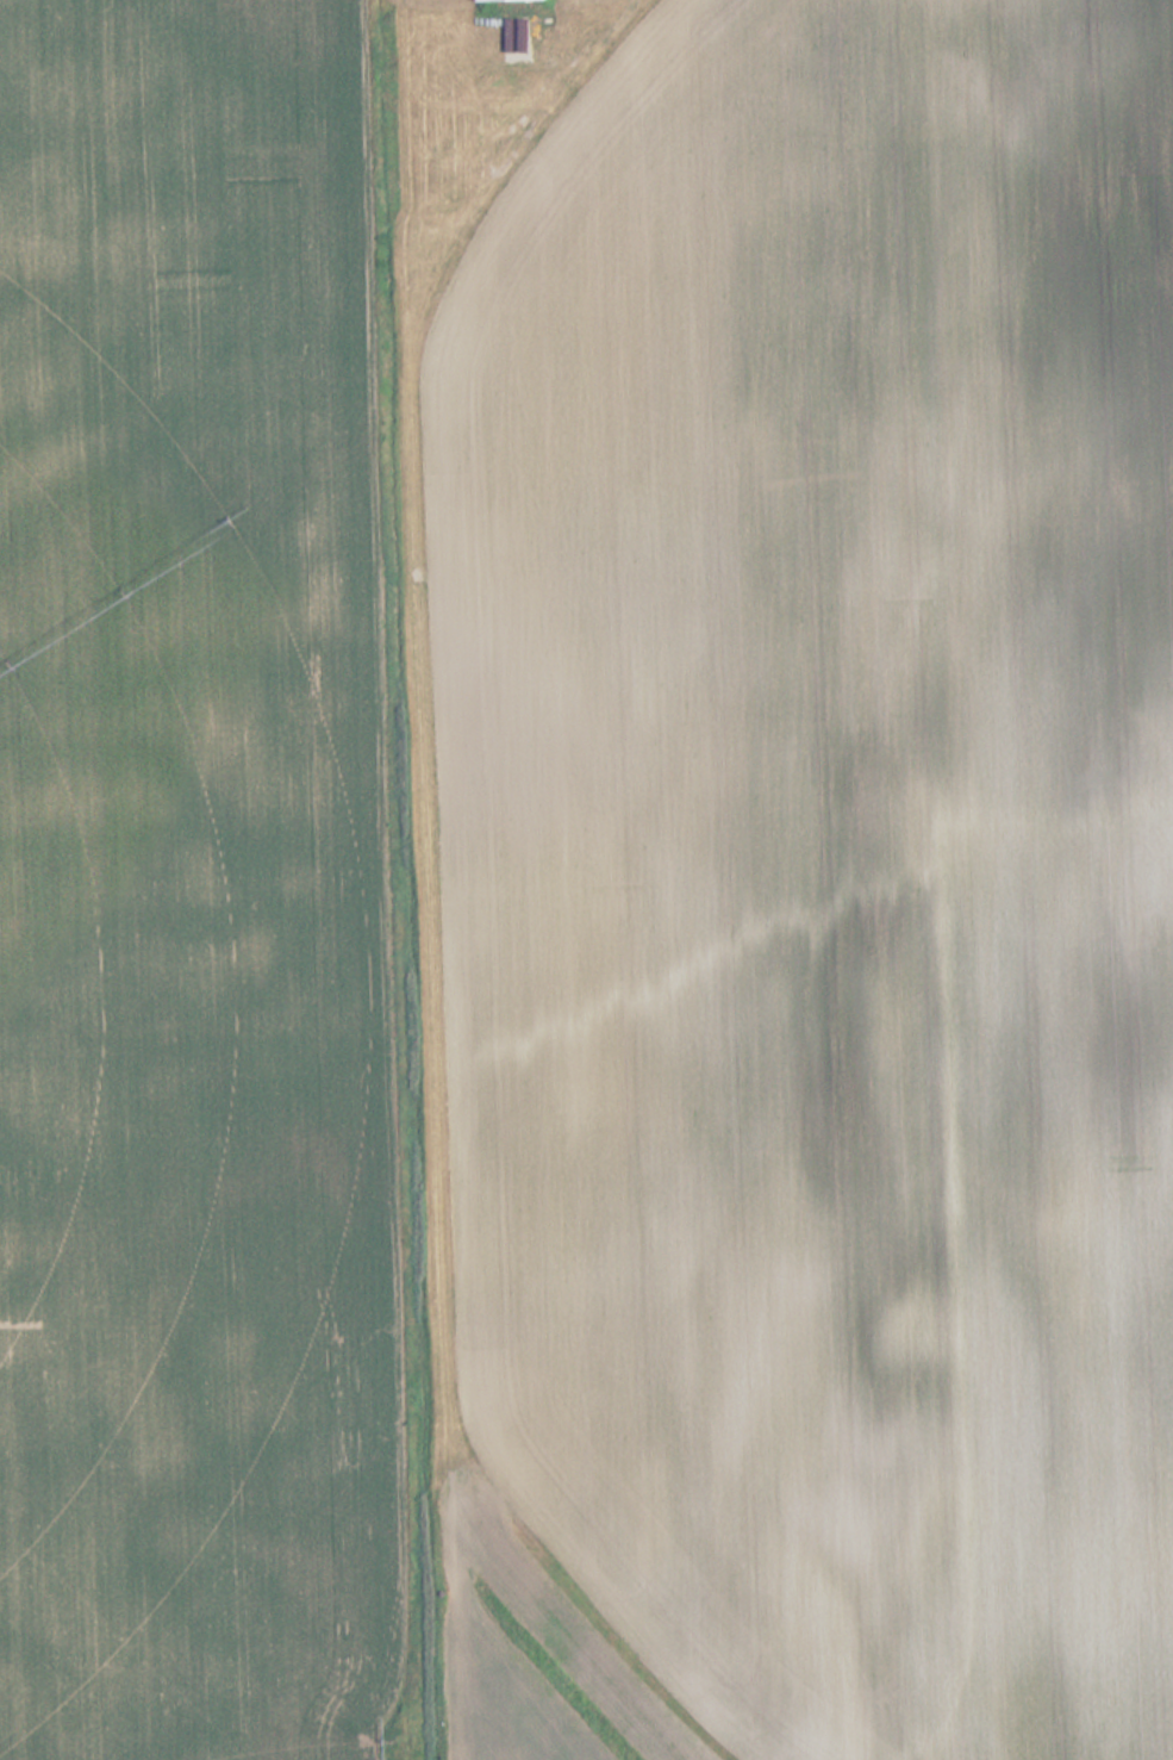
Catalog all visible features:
building: (518, 1)

